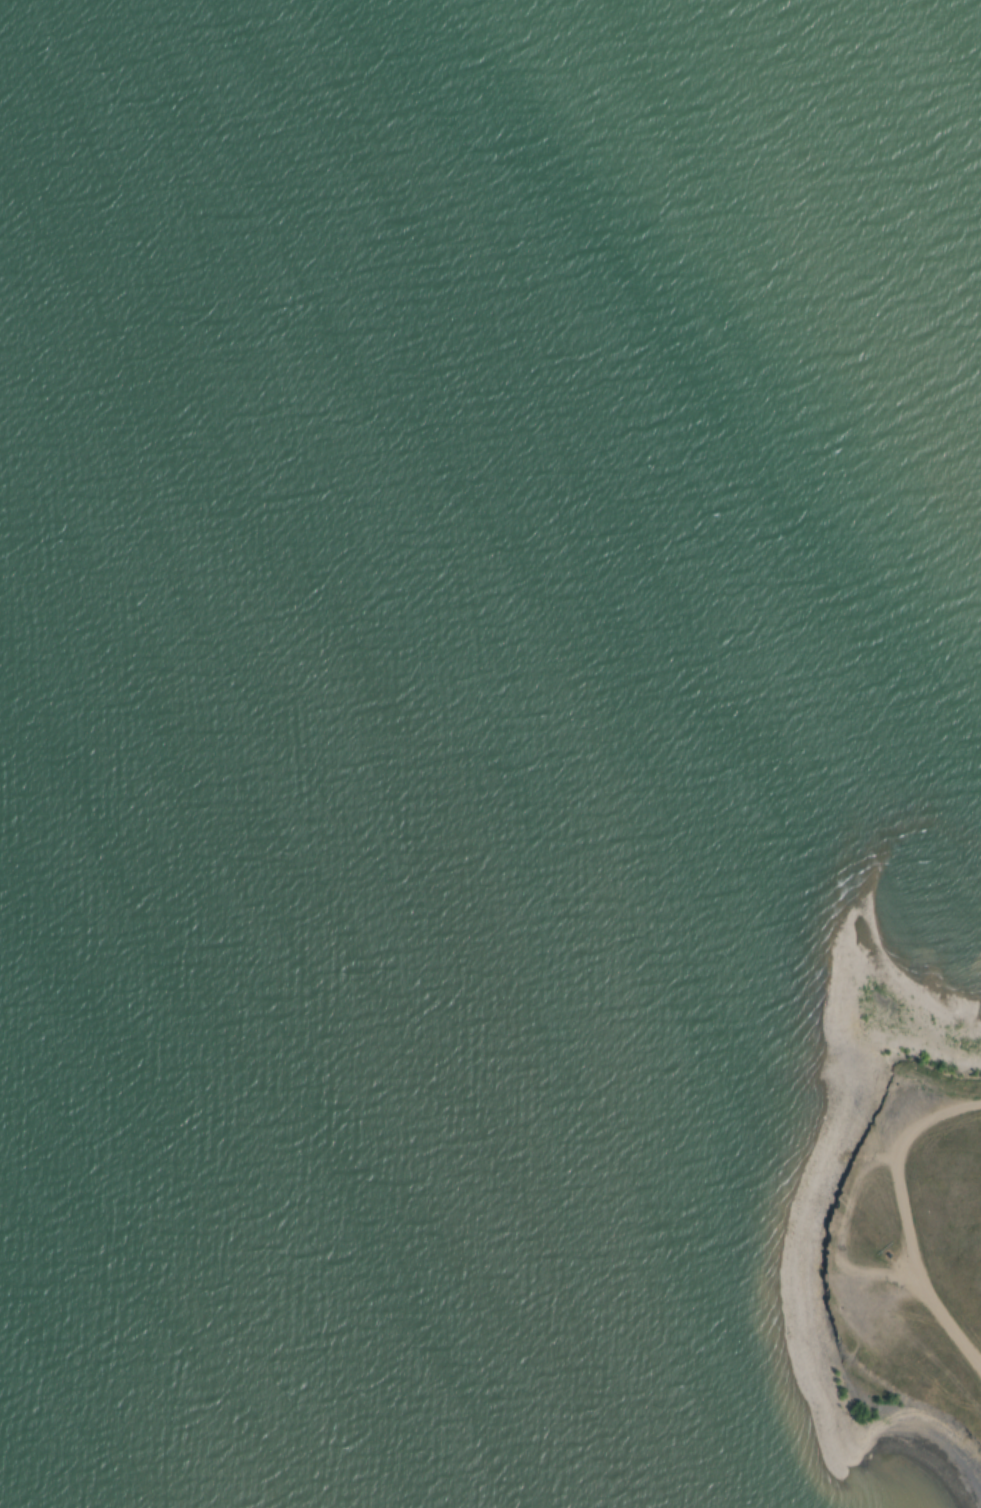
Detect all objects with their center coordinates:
road: (916, 1221)

